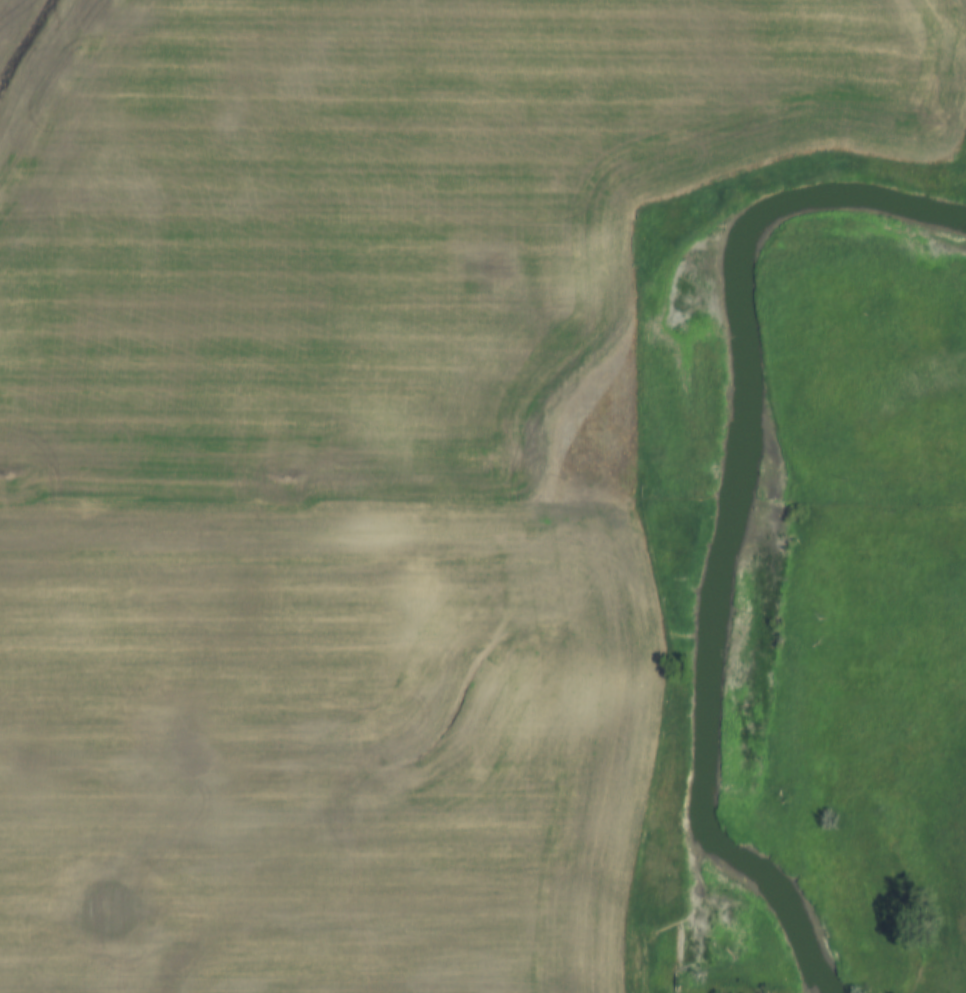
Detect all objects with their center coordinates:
river: (742, 506)

